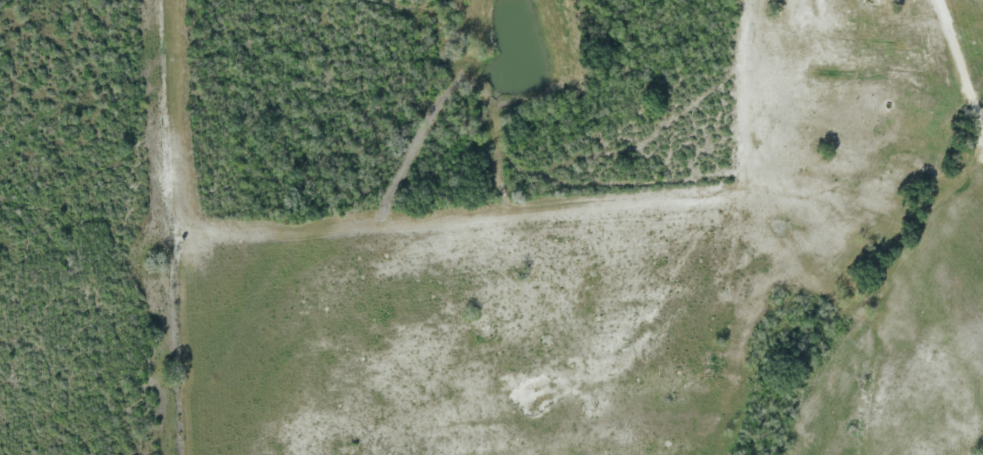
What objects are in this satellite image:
road: (960, 63)

